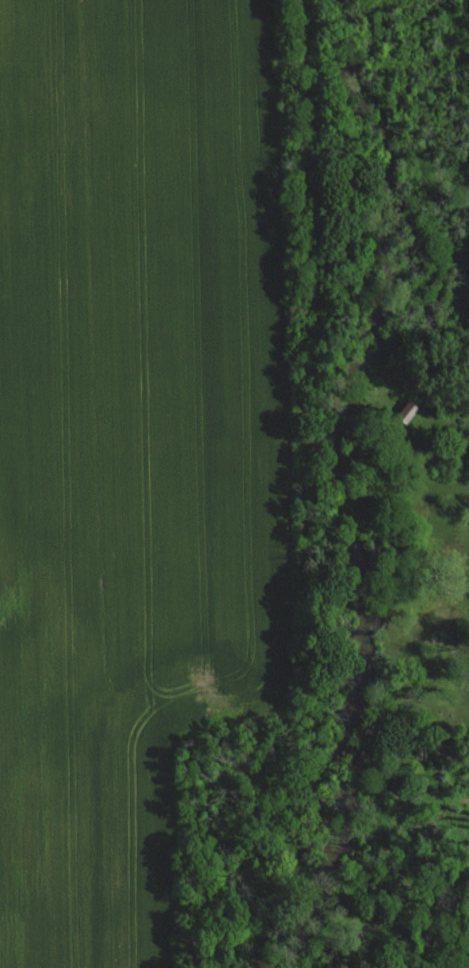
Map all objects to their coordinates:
building: (408, 411)

